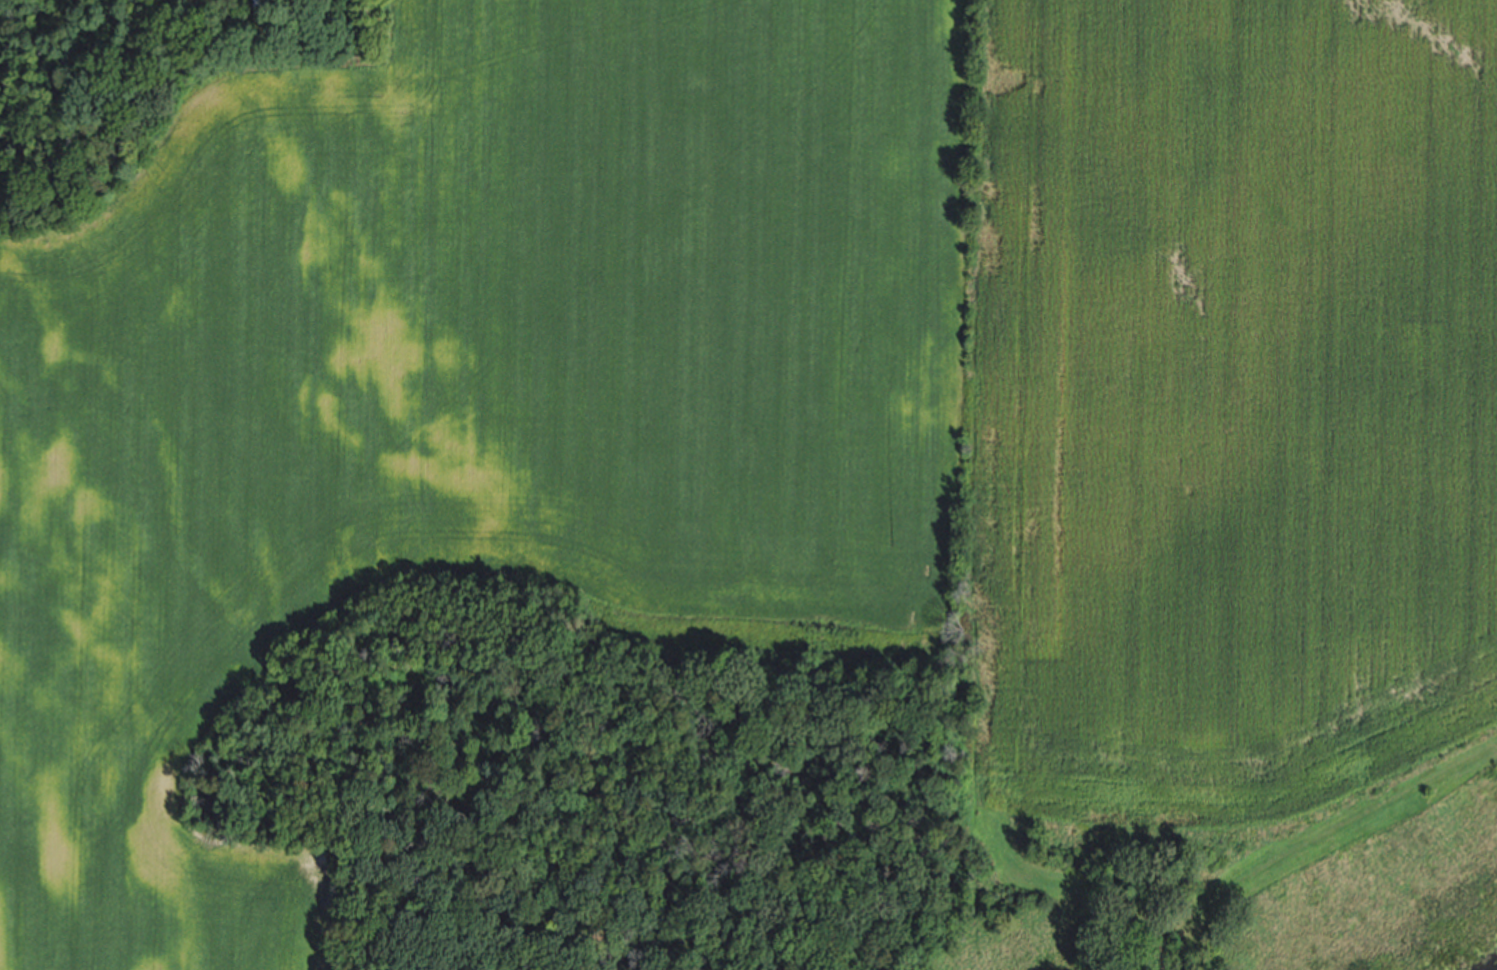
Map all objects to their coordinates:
building: (262, 8)

